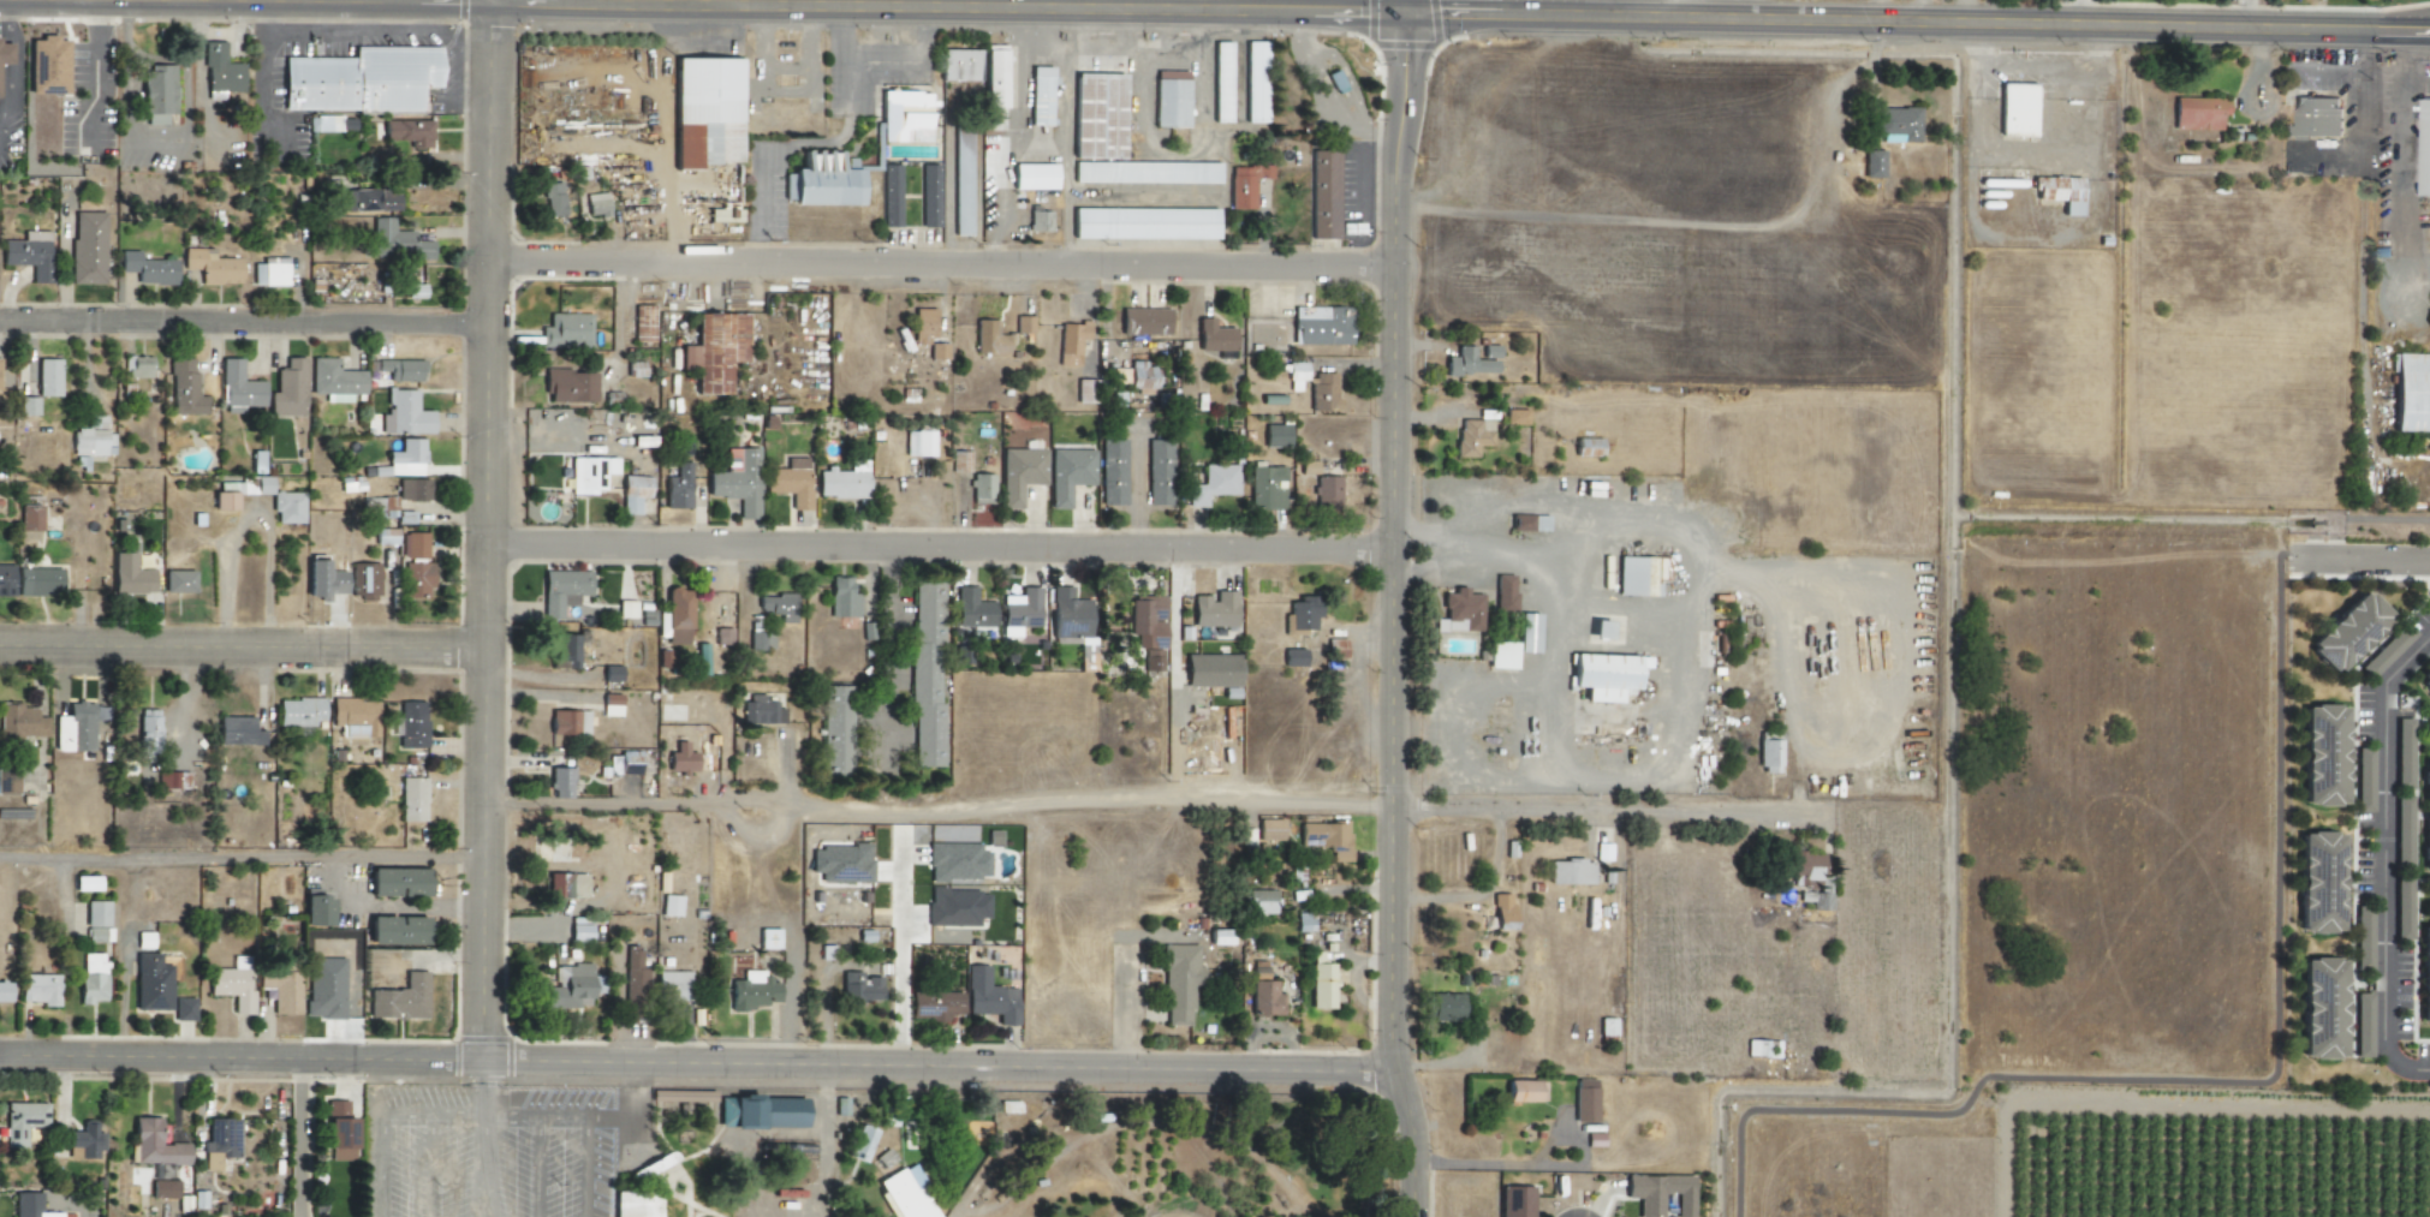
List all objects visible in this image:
road: (50, 1)
road: (144, 1)
road: (279, 1)
road: (814, 8)
road: (2079, 13)
road: (2240, 16)
road: (2029, 26)
building: (4, 53)
building: (959, 65)
building: (46, 66)
building: (219, 70)
building: (994, 76)
building: (361, 79)
building: (1220, 82)
building: (1253, 82)
building: (1334, 82)
building: (157, 94)
building: (1040, 100)
building: (1169, 103)
building: (2015, 109)
building: (704, 111)
building: (2198, 113)
building: (904, 117)
building: (1097, 117)
building: (2315, 117)
building: (326, 124)
building: (1898, 125)
building: (409, 137)
building: (2425, 148)
building: (1872, 163)
building: (1145, 172)
building: (1032, 175)
building: (820, 181)
building: (961, 184)
building: (1244, 184)
building: (2060, 192)
building: (929, 195)
building: (1323, 195)
building: (891, 196)
building: (553, 199)
building: (369, 201)
building: (595, 204)
building: (722, 215)
building: (1038, 220)
building: (1143, 223)
building: (395, 241)
building: (87, 247)
building: (28, 253)
road: (946, 259)
road: (2368, 262)
building: (210, 267)
building: (147, 268)
building: (269, 272)
building: (413, 291)
road: (2142, 300)
road: (245, 320)
building: (1143, 321)
building: (643, 323)
building: (1023, 324)
building: (922, 326)
building: (1320, 326)
building: (565, 330)
building: (1213, 336)
building: (988, 338)
building: (1070, 344)
building: (714, 351)
building: (936, 351)
building: (1490, 352)
building: (1467, 364)
building: (136, 366)
building: (636, 369)
building: (400, 370)
building: (1296, 375)
building: (1119, 376)
building: (47, 377)
building: (1142, 378)
building: (334, 381)
building: (568, 386)
building: (237, 388)
building: (184, 389)
building: (287, 390)
building: (2411, 392)
building: (1322, 393)
building: (1084, 395)
building: (26, 405)
building: (403, 414)
building: (1514, 417)
building: (1275, 435)
building: (1471, 436)
building: (91, 439)
building: (917, 443)
building: (404, 459)
road: (1984, 465)
building: (1112, 472)
building: (1159, 472)
building: (589, 473)
building: (1019, 473)
building: (1067, 473)
building: (790, 481)
building: (842, 482)
building: (738, 484)
building: (1211, 484)
building: (243, 485)
building: (677, 488)
building: (1265, 488)
building: (981, 489)
building: (412, 490)
building: (632, 493)
building: (1326, 493)
building: (222, 501)
building: (286, 507)
building: (29, 519)
road: (249, 519)
building: (1527, 523)
road: (492, 527)
road: (943, 543)
building: (413, 545)
road: (2364, 557)
building: (129, 575)
building: (1637, 577)
building: (6, 579)
building: (365, 579)
building: (416, 580)
building: (36, 581)
building: (177, 581)
building: (561, 590)
building: (1503, 593)
building: (841, 598)
building: (776, 607)
building: (625, 609)
building: (1214, 609)
road: (1395, 609)
building: (1019, 612)
building: (972, 613)
building: (1303, 613)
building: (1458, 613)
building: (1067, 614)
building: (677, 616)
building: (1146, 622)
building: (1527, 633)
building: (2347, 633)
building: (721, 637)
building: (760, 640)
road: (245, 644)
building: (1082, 648)
road: (1550, 648)
building: (564, 651)
building: (1500, 656)
building: (1293, 657)
building: (665, 658)
building: (1151, 661)
building: (609, 673)
building: (925, 675)
building: (1603, 675)
building: (2424, 680)
building: (609, 705)
building: (761, 711)
building: (298, 712)
building: (353, 716)
building: (19, 723)
building: (567, 723)
building: (411, 724)
building: (72, 728)
building: (236, 732)
building: (835, 732)
building: (147, 733)
building: (2402, 753)
building: (1768, 756)
building: (2322, 756)
building: (689, 762)
building: (627, 763)
building: (7, 780)
building: (171, 781)
building: (559, 783)
building: (411, 800)
road: (943, 803)
road: (1610, 809)
building: (2425, 819)
building: (1268, 830)
building: (991, 839)
building: (1326, 839)
road: (245, 854)
road: (2383, 857)
building: (957, 863)
building: (840, 864)
building: (1570, 872)
building: (1809, 879)
building: (394, 883)
building: (2318, 883)
building: (565, 885)
building: (1257, 902)
building: (668, 906)
building: (955, 907)
building: (314, 909)
building: (1501, 912)
building: (95, 921)
building: (394, 931)
building: (578, 933)
building: (767, 938)
building: (1219, 938)
building: (824, 953)
building: (1257, 971)
building: (91, 978)
building: (633, 978)
building: (2423, 979)
building: (1178, 983)
building: (1320, 983)
building: (150, 984)
building: (232, 985)
building: (672, 985)
building: (323, 988)
building: (858, 988)
building: (37, 989)
building: (566, 989)
building: (280, 991)
building: (751, 991)
building: (4, 992)
building: (988, 997)
building: (399, 1000)
building: (1263, 1000)
building: (933, 1007)
building: (1445, 1008)
building: (183, 1009)
building: (2321, 1009)
building: (1761, 1049)
road: (697, 1060)
road: (478, 1087)
railway: (705, 1092)
building: (1524, 1092)
railway: (827, 1093)
railway: (705, 1094)
building: (687, 1096)
railway: (1177, 1098)
building: (1584, 1100)
building: (758, 1111)
railway: (1042, 1115)
road: (380, 1116)
road: (579, 1120)
building: (20, 1121)
railway: (1306, 1122)
building: (338, 1131)
road: (300, 1135)
building: (1594, 1139)
building: (84, 1140)
road: (823, 1140)
railway: (1187, 1140)
building: (219, 1141)
building: (859, 1143)
railway: (1280, 1143)
railway: (1287, 1143)
building: (154, 1144)
railway: (844, 1145)
railway: (1252, 1145)
railway: (1293, 1147)
railway: (1287, 1151)
railway: (1282, 1153)
railway: (1294, 1153)
railway: (1293, 1159)
railway: (1287, 1164)
road: (477, 1167)
railway: (1253, 1176)
building: (162, 1188)
building: (1658, 1193)
building: (906, 1194)
railway: (1237, 1200)
building: (1515, 1200)
railway: (1243, 1201)
building: (635, 1204)
building: (29, 1205)
building: (85, 1211)
railway: (1171, 1213)

